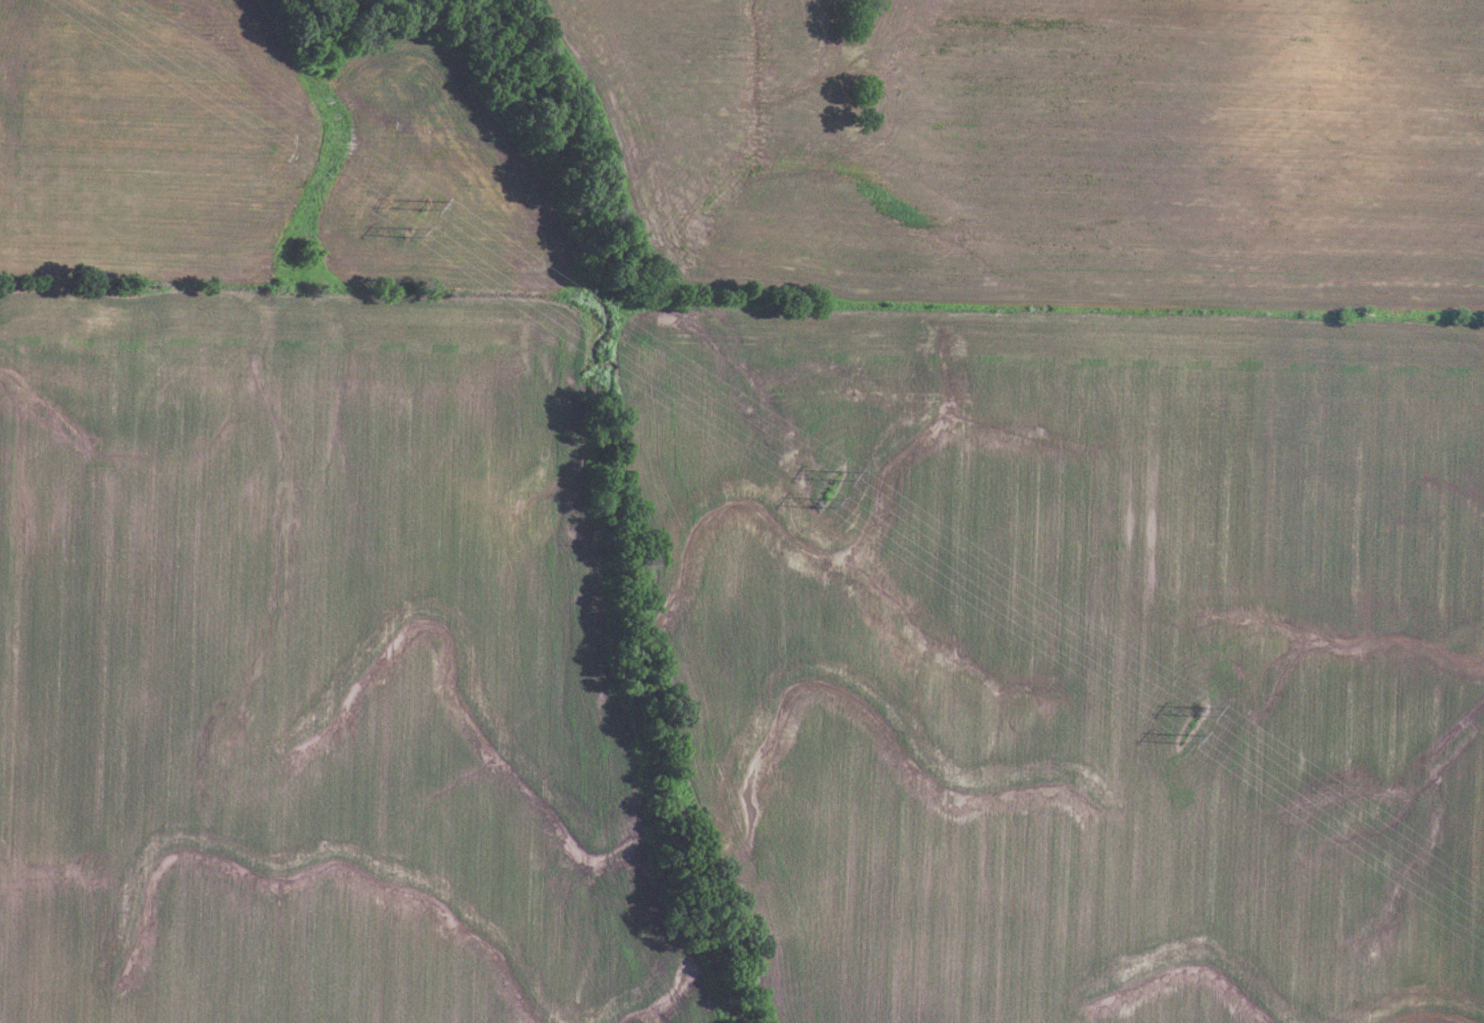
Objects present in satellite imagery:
power tower: (413, 206)
power tower: (399, 234)
power tower: (836, 476)
power tower: (807, 501)
power tower: (1199, 715)
power tower: (1182, 742)

